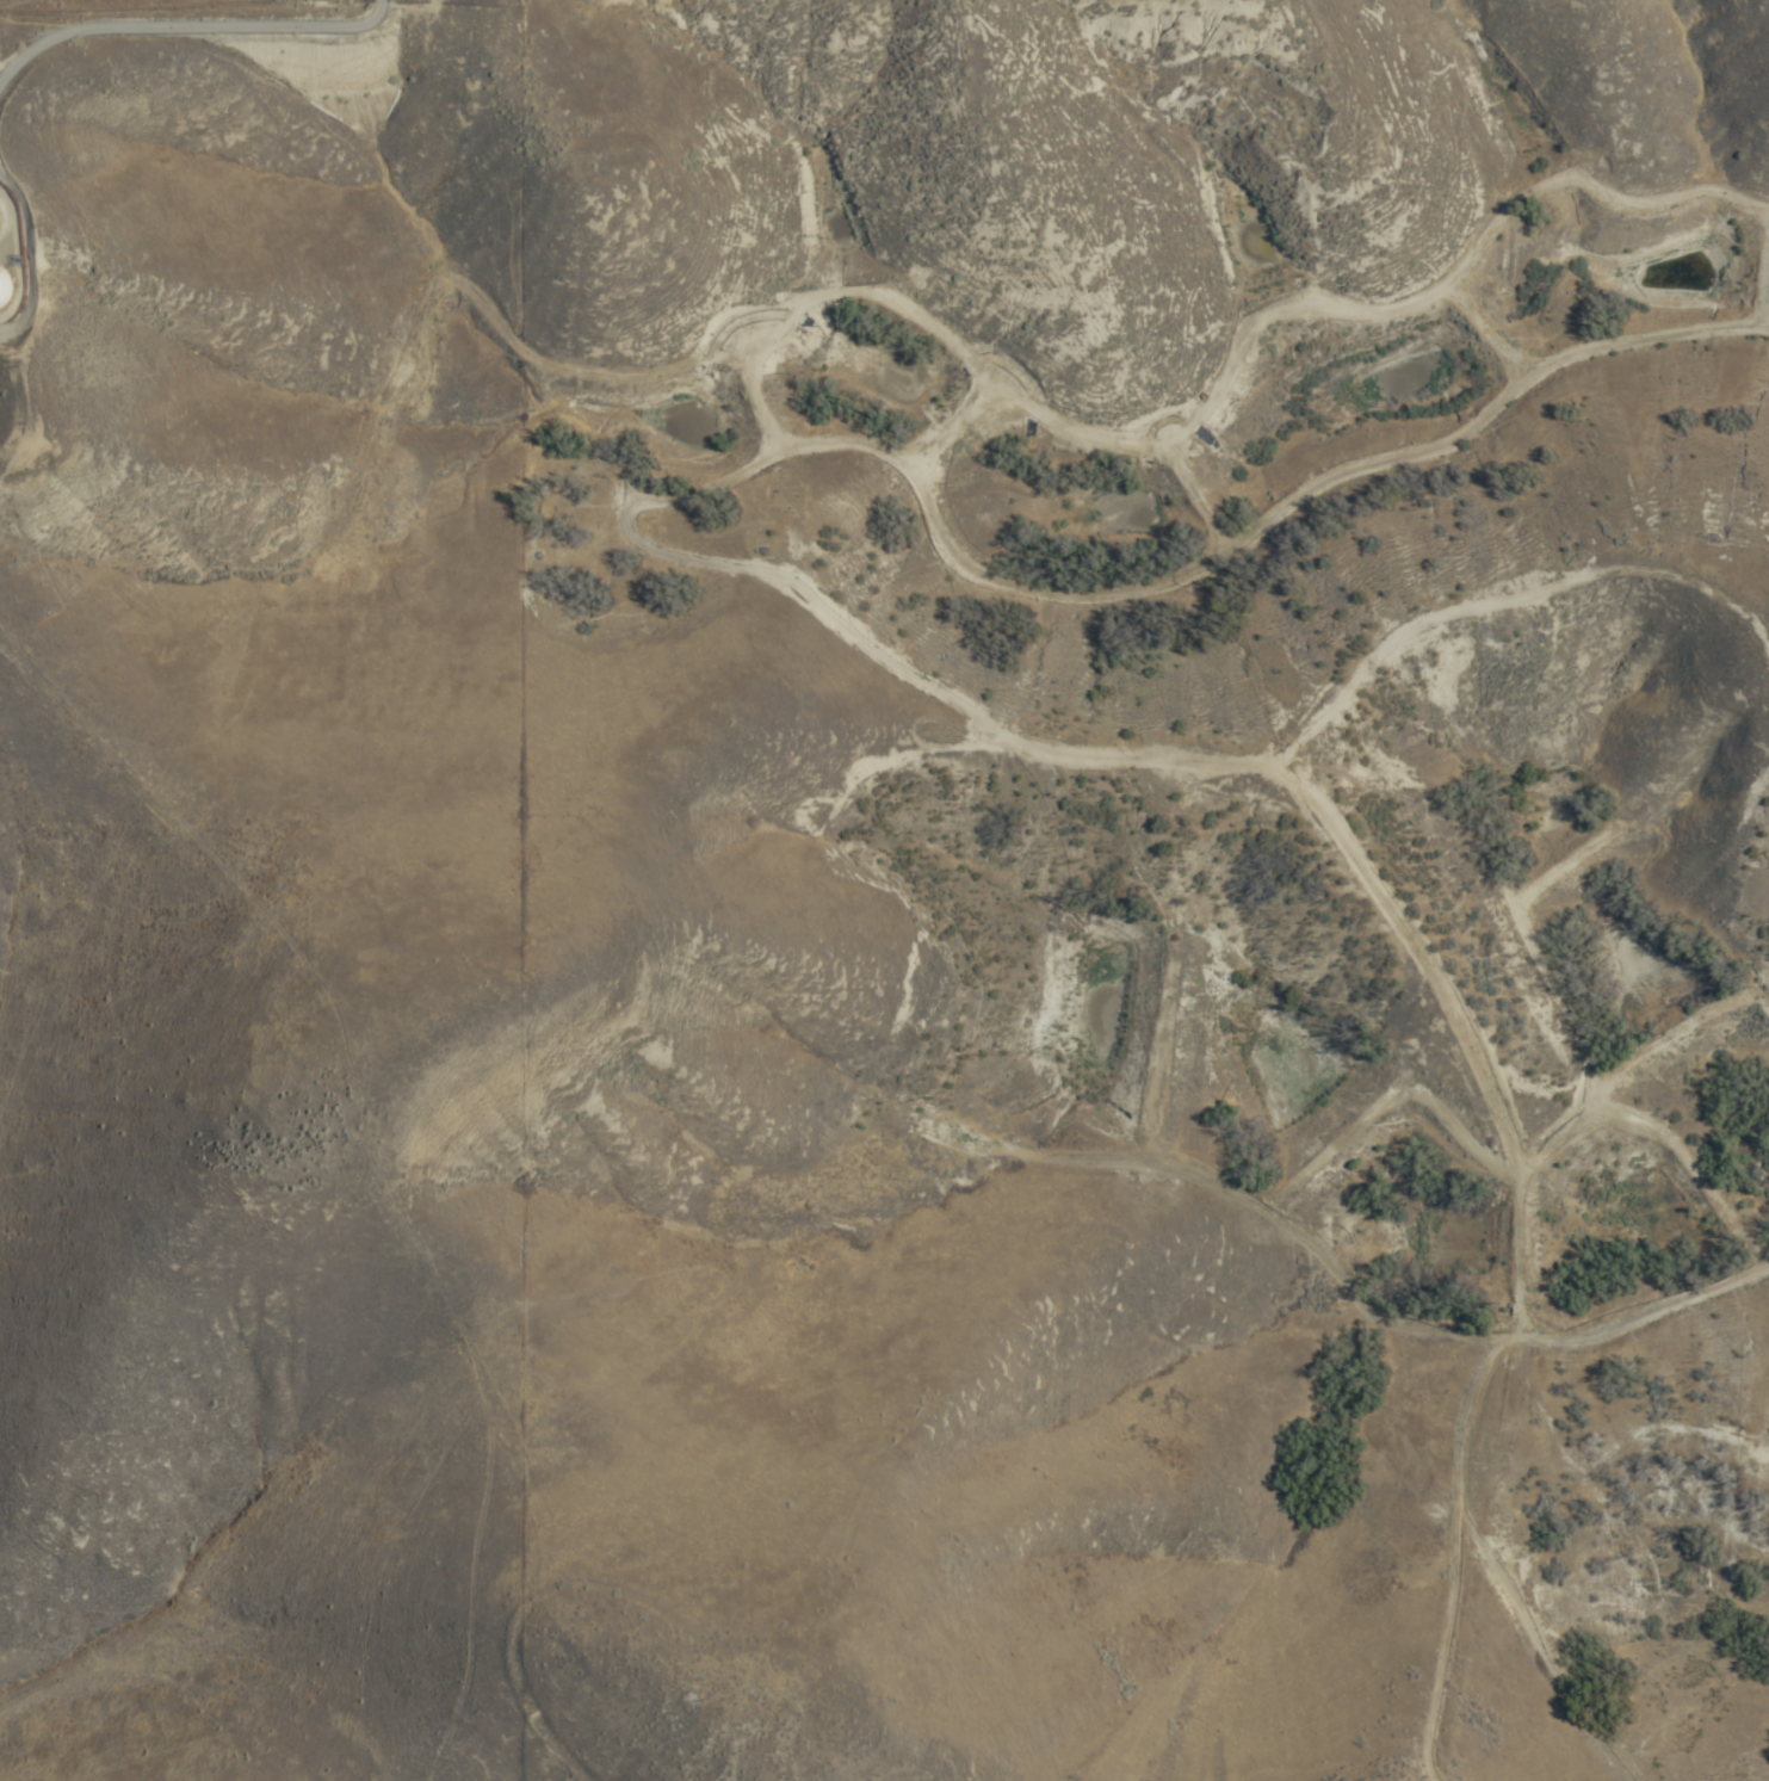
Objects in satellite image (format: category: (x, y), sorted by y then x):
building: (2, 289)
road: (25, 384)
road: (1194, 546)
road: (1412, 1070)
road: (1415, 1414)

